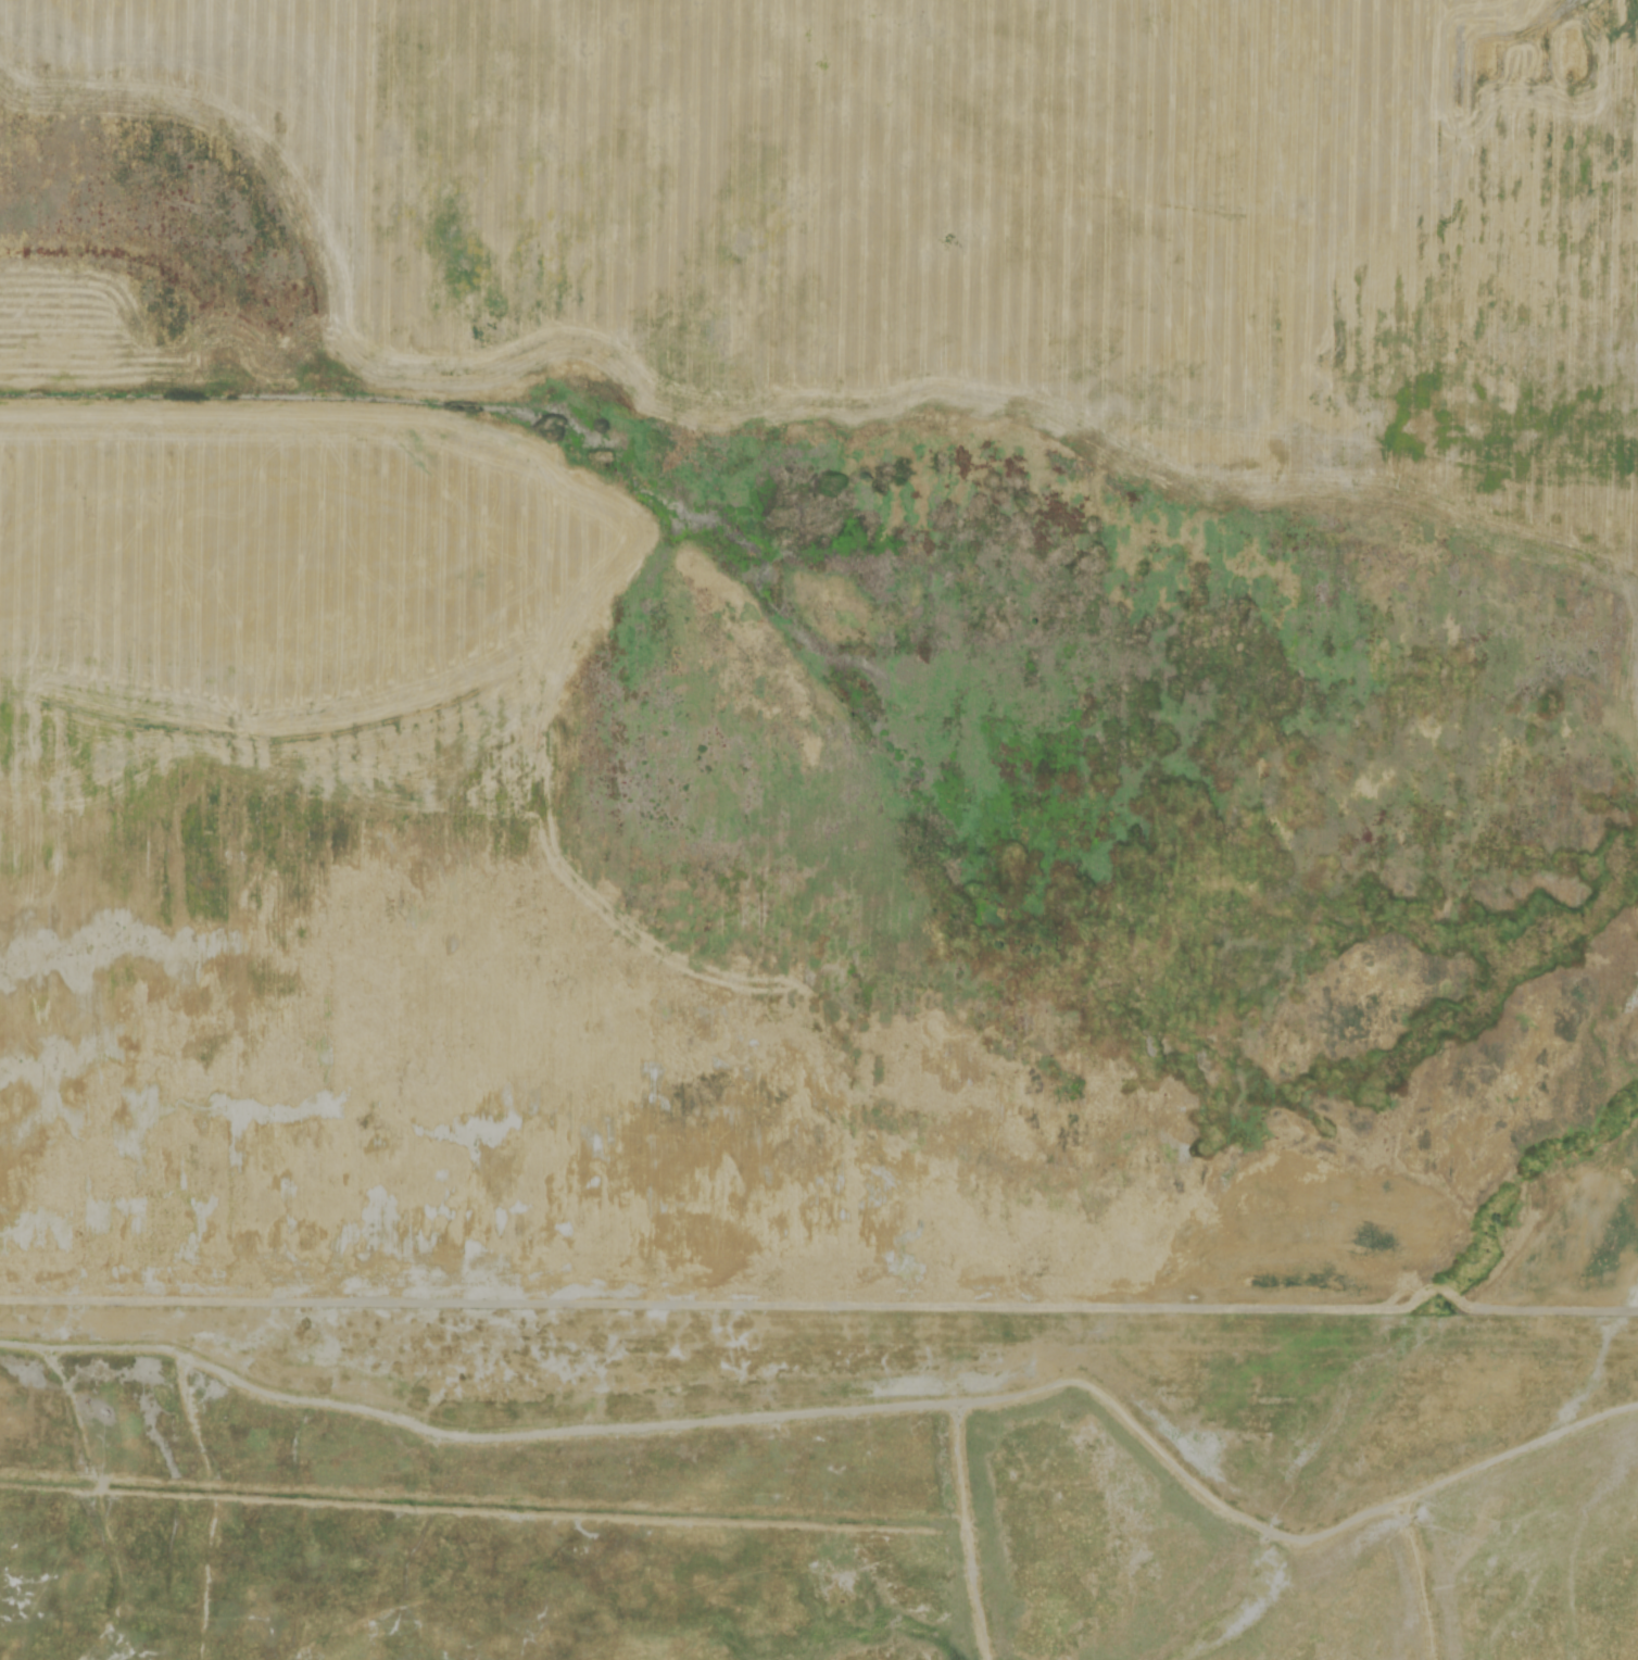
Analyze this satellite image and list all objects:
crop: (563, 185)

